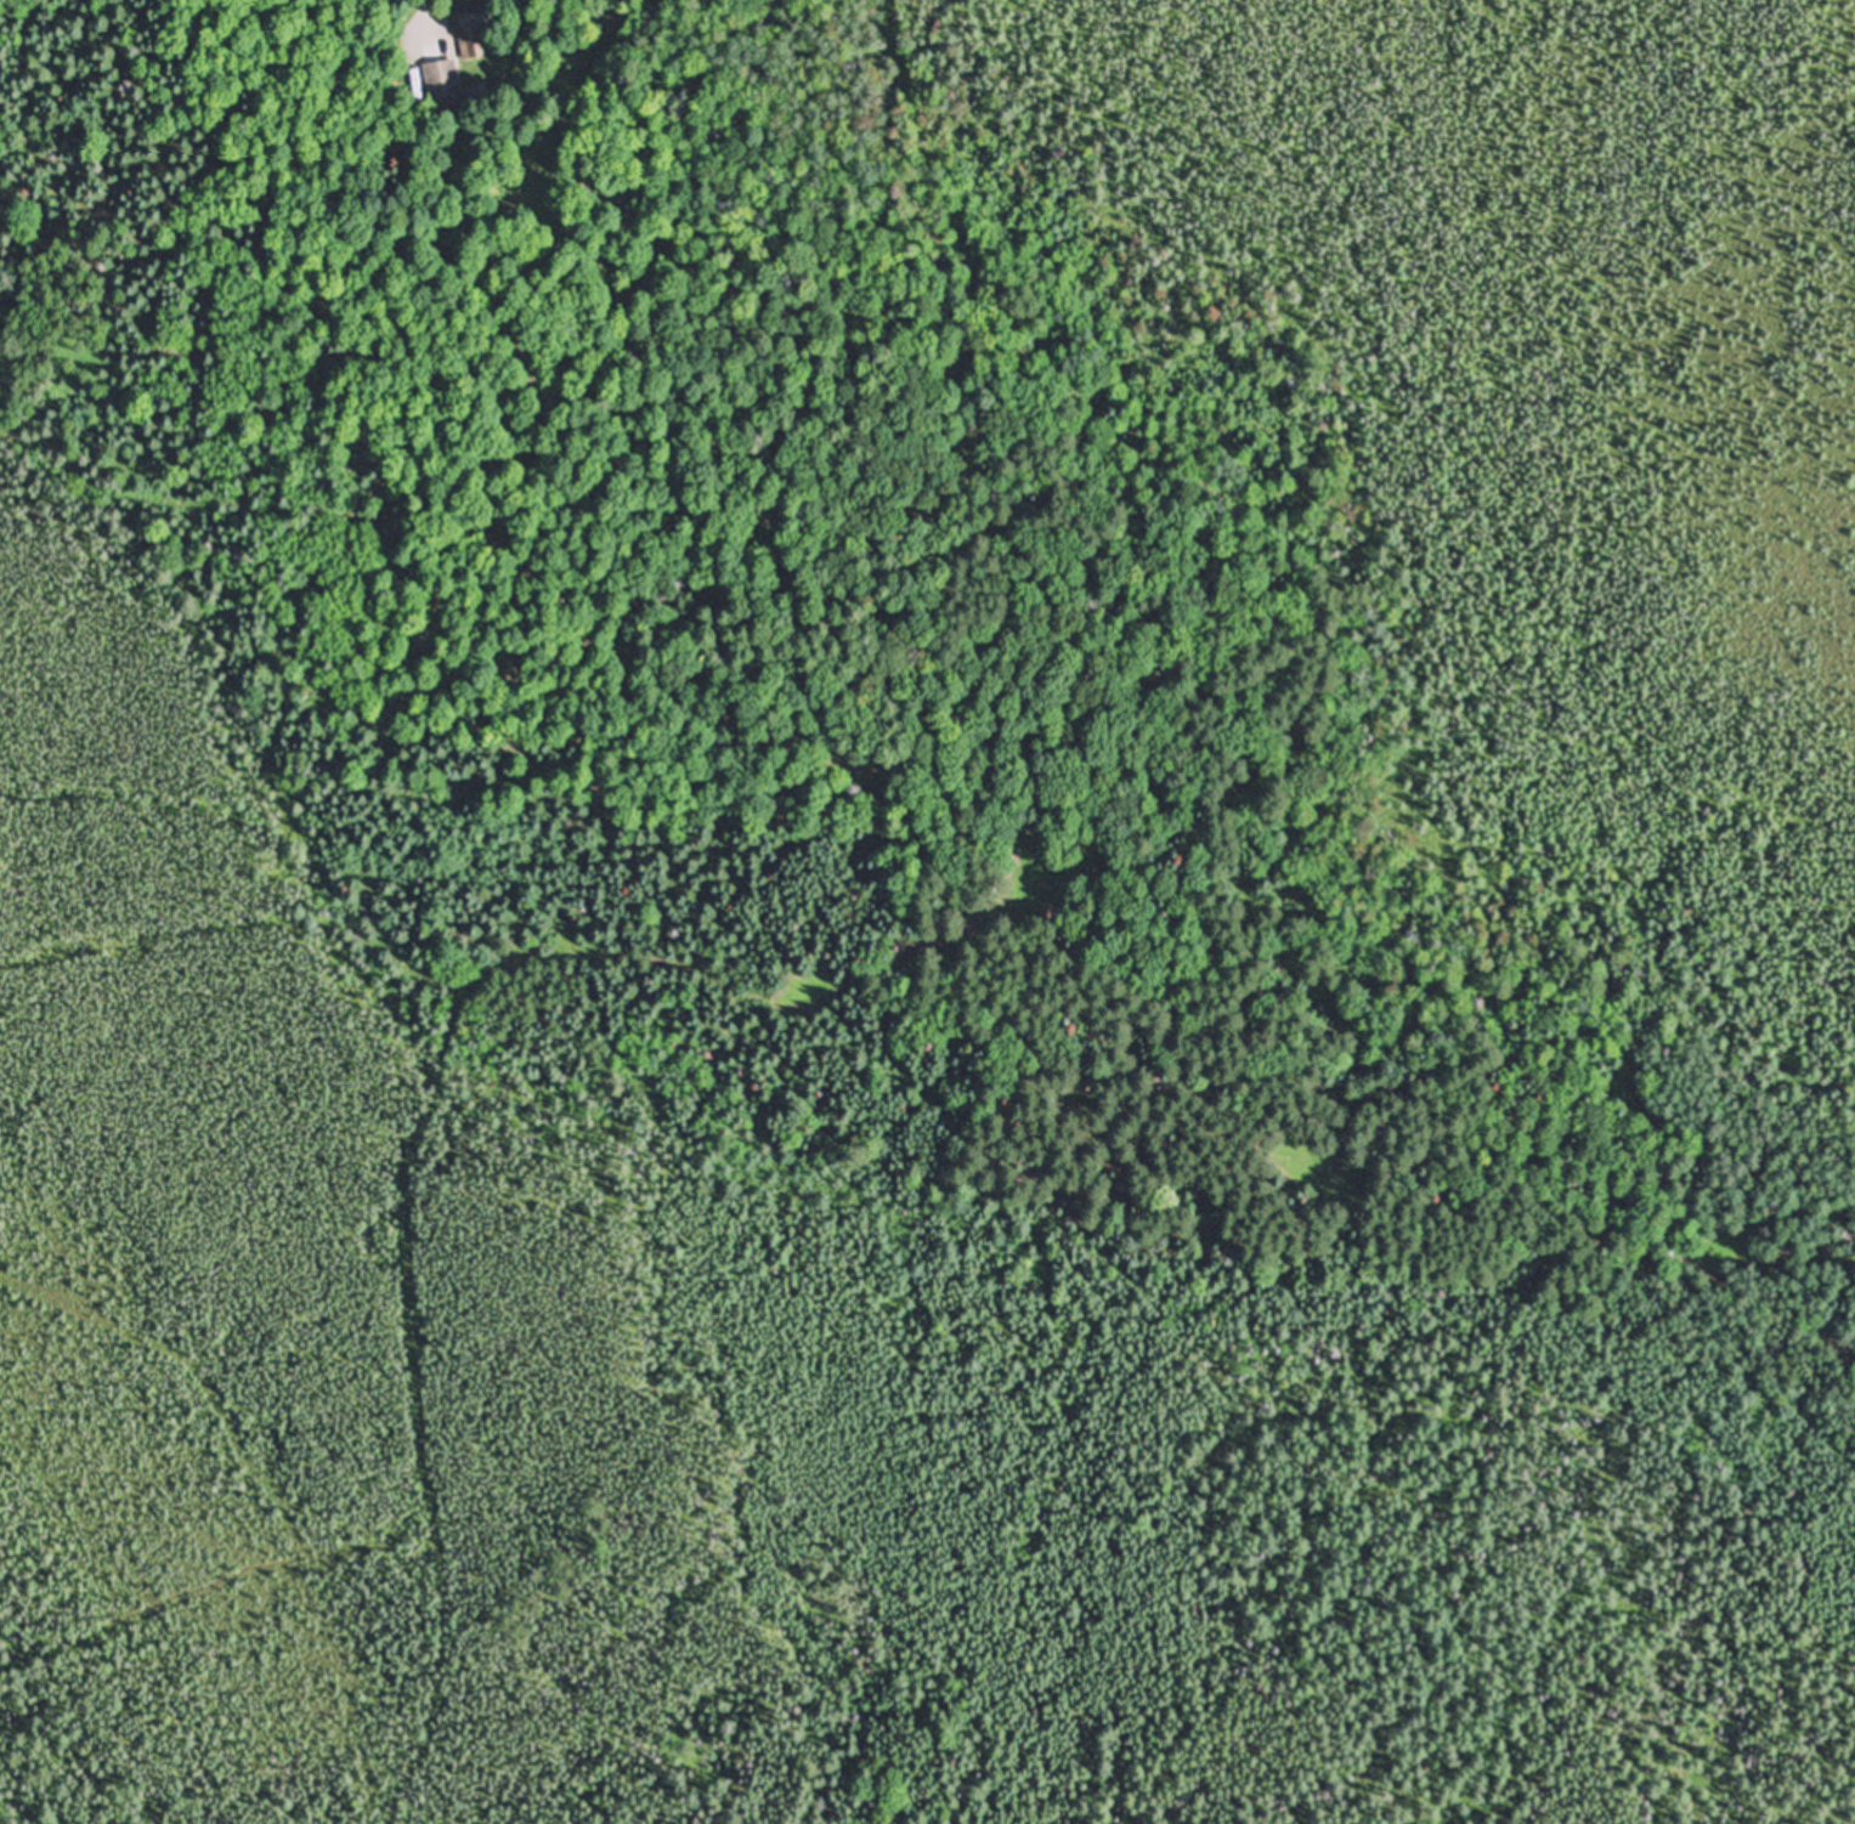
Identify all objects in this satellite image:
building: (470, 33)
building: (441, 79)
road: (1642, 1533)

